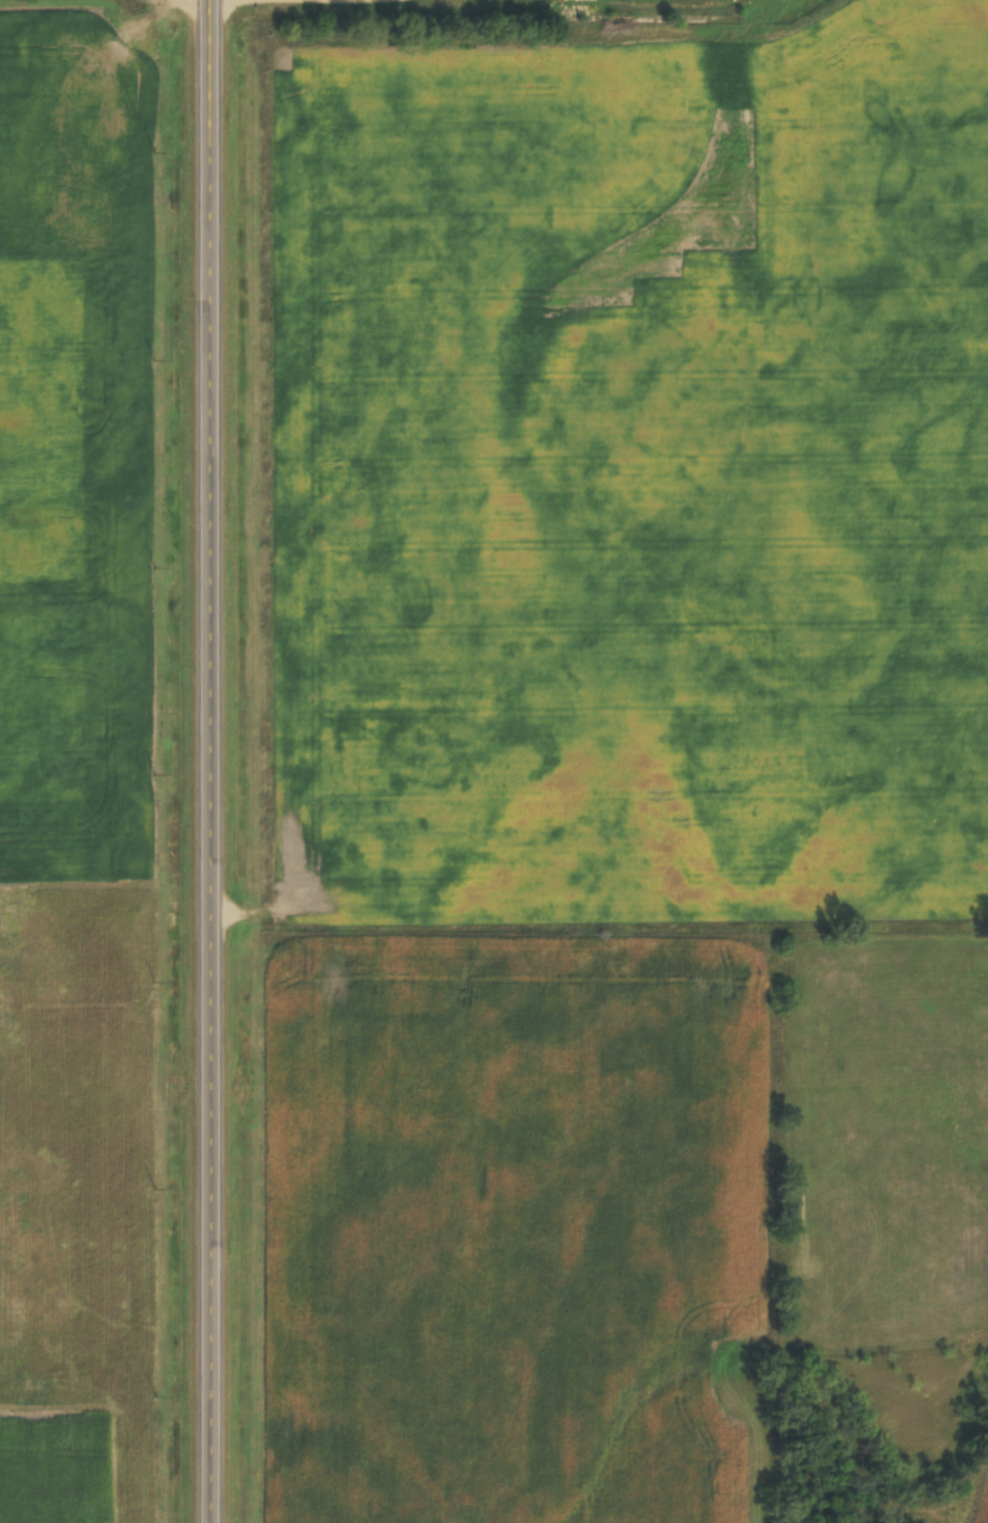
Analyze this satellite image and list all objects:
road: (211, 761)

